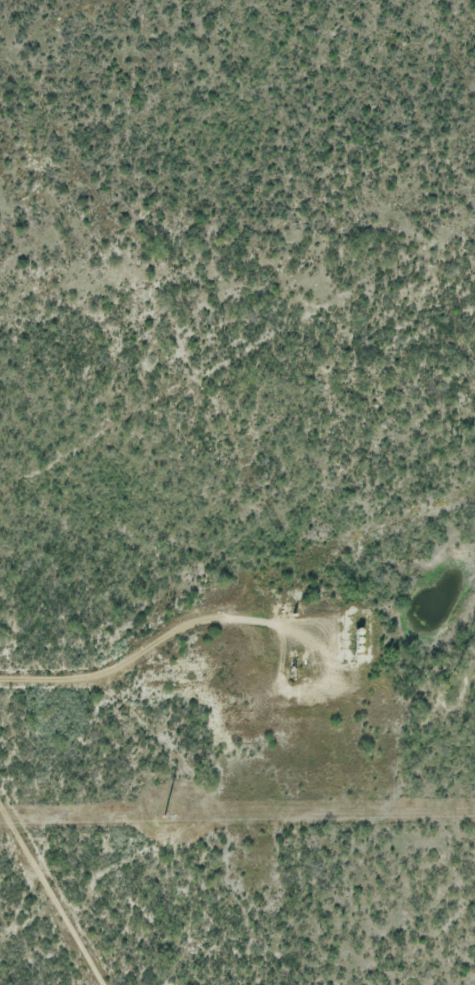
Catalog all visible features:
petroleum well: (297, 675)
power tower: (167, 814)

